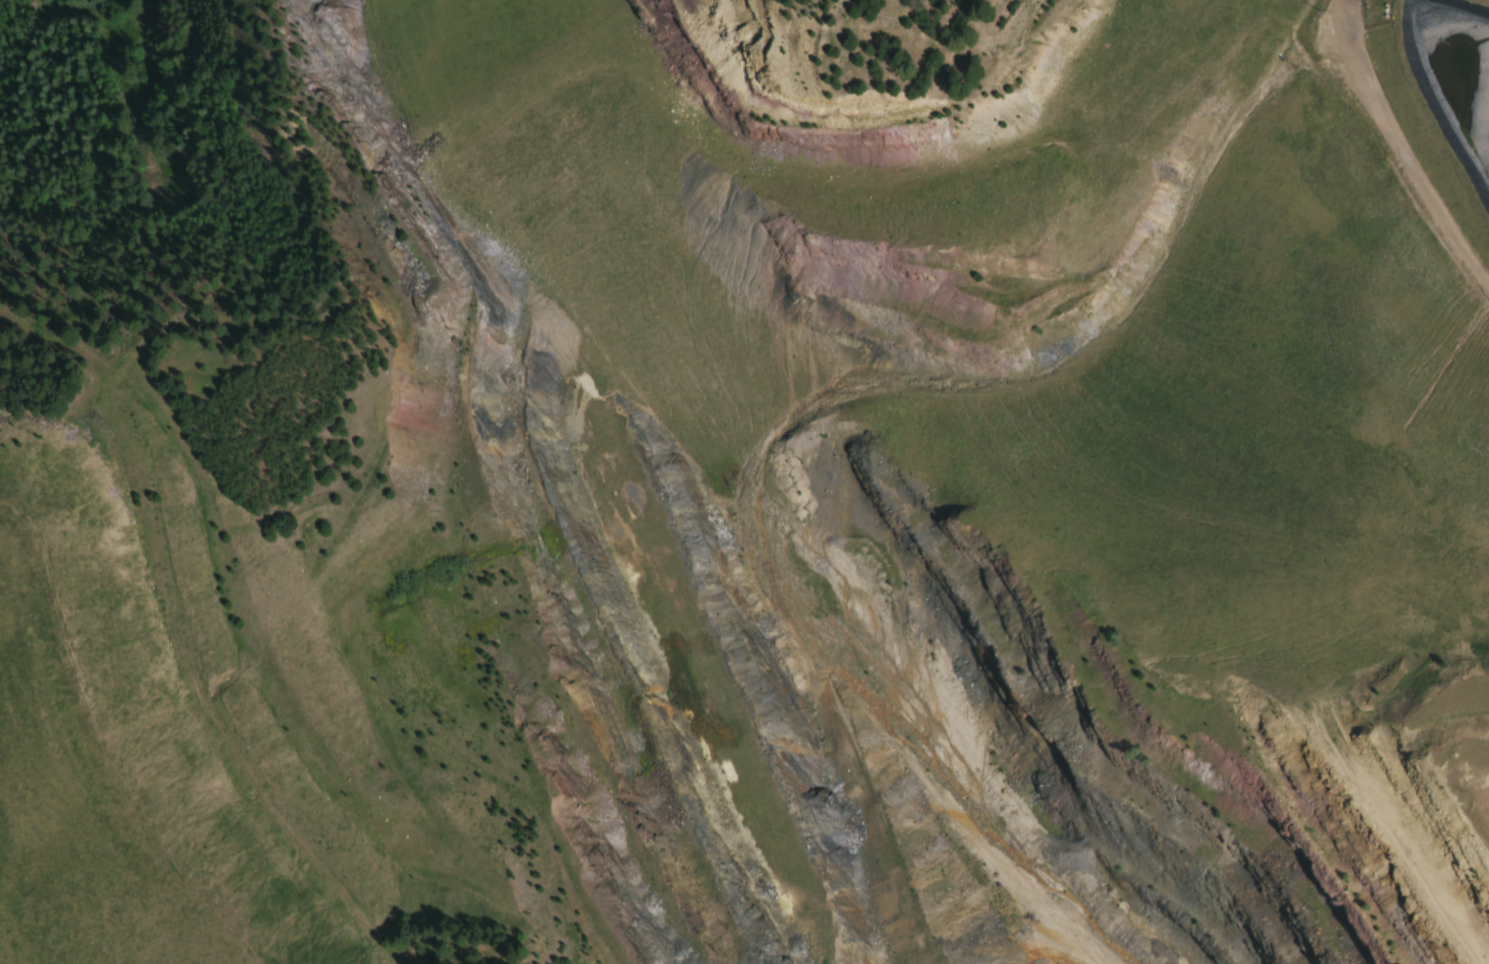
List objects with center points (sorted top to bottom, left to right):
quarry: (1063, 594)

